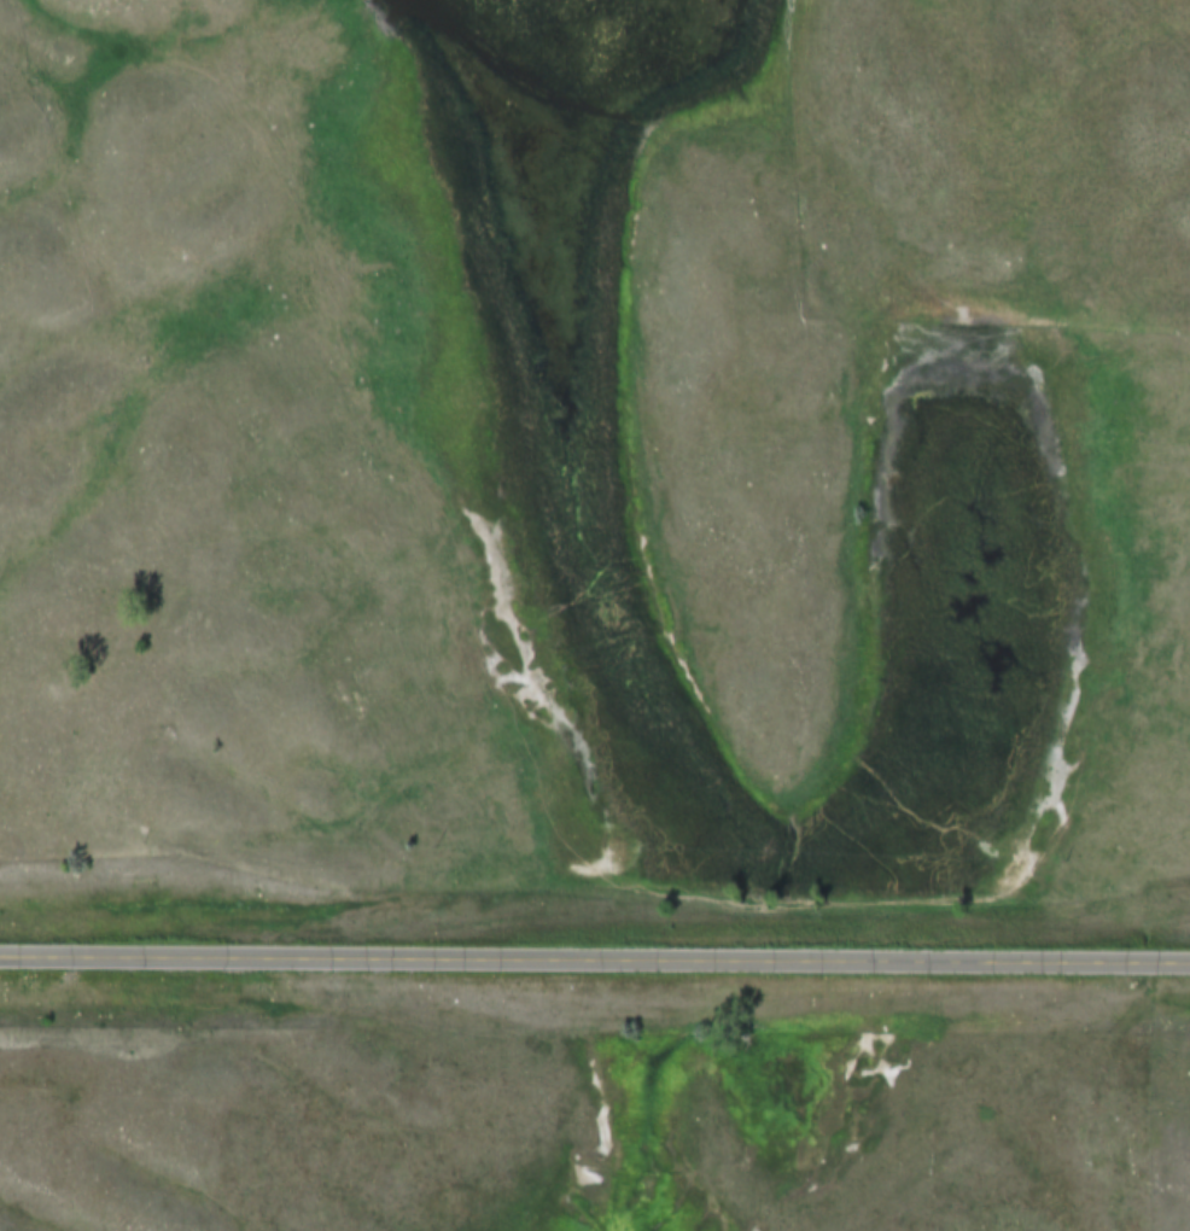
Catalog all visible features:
road: (595, 958)

